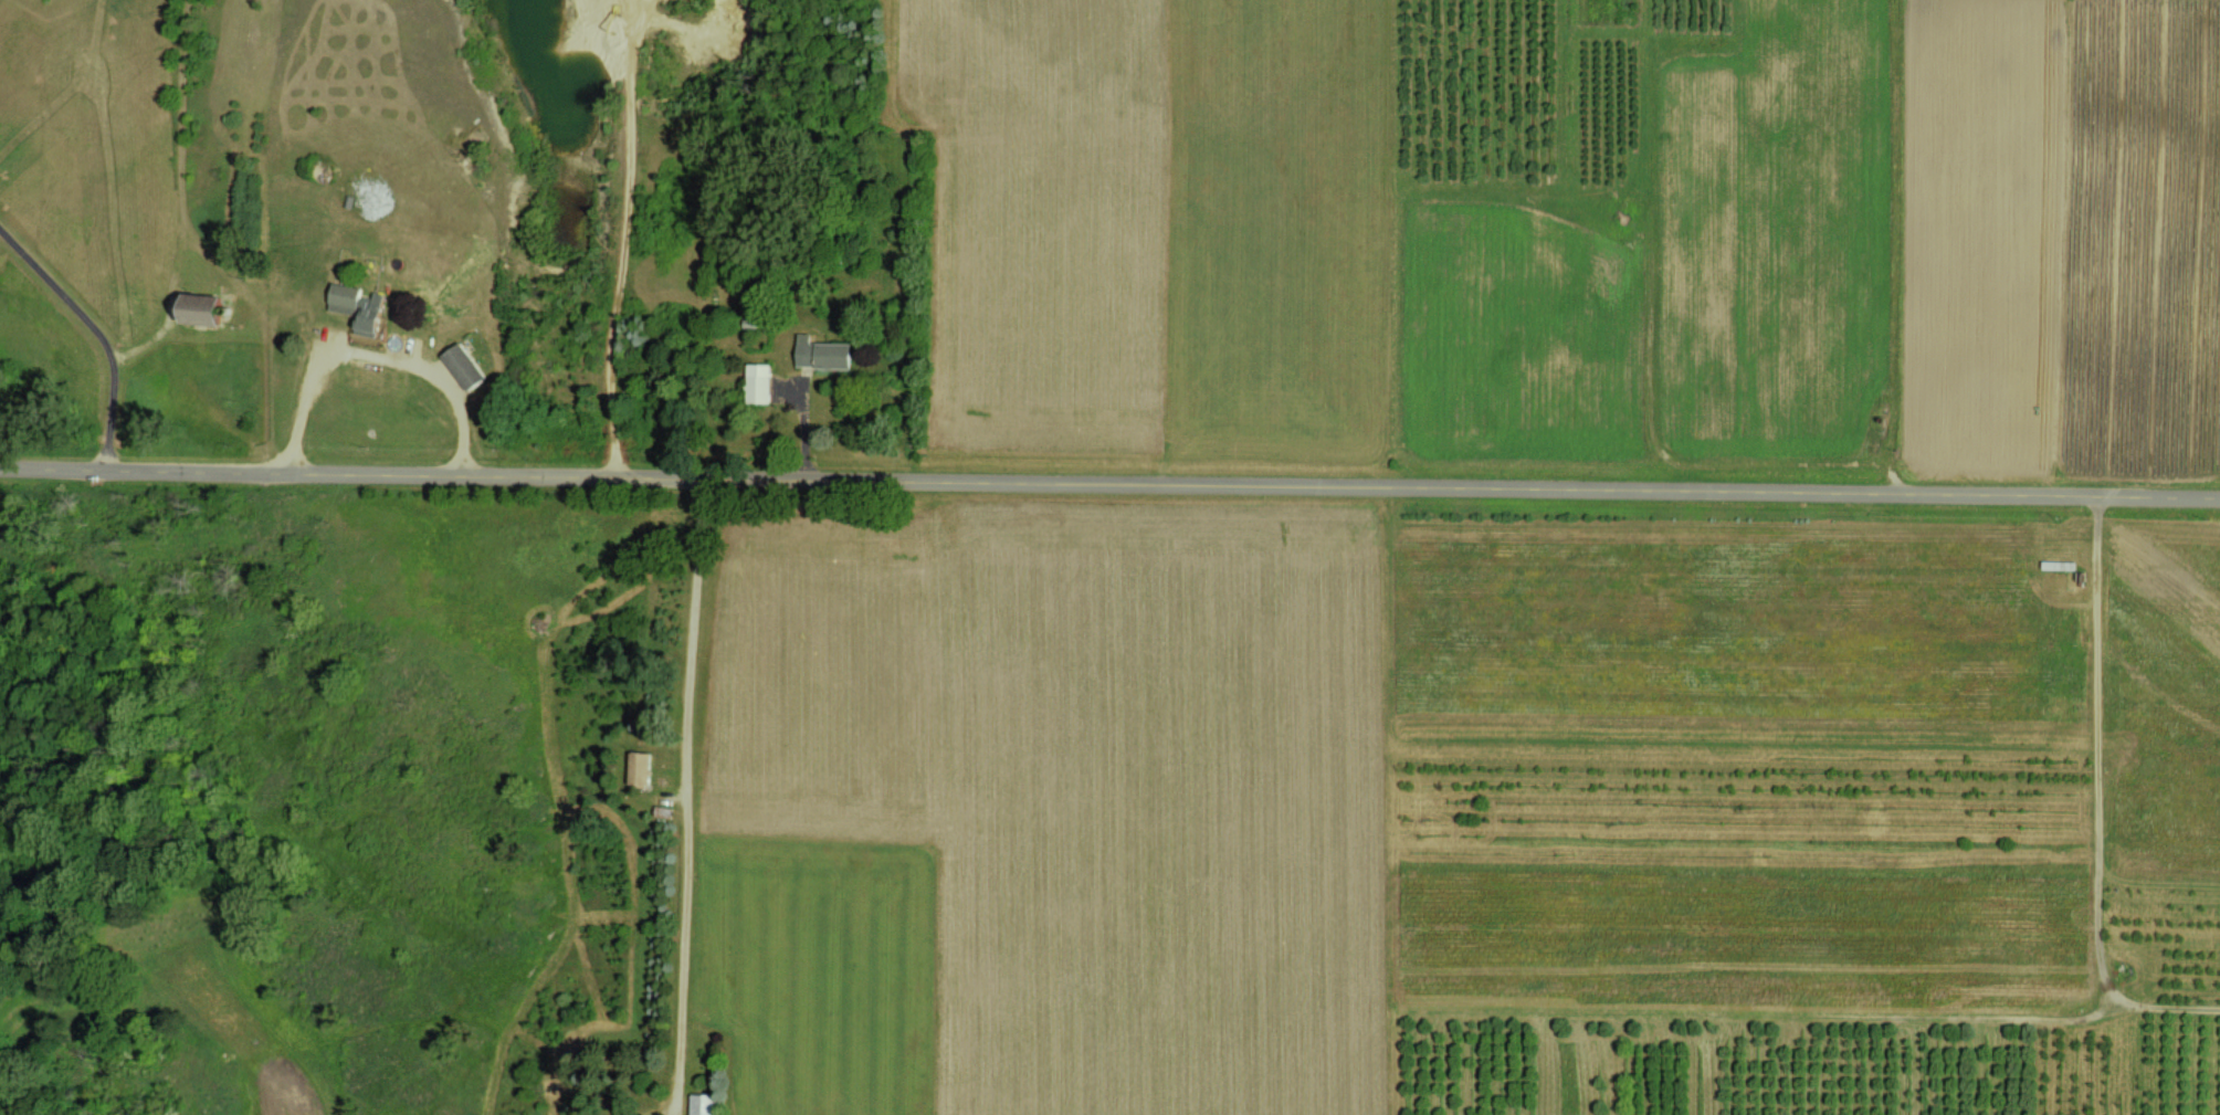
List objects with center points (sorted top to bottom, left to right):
building: (361, 307)
building: (206, 308)
road: (96, 330)
road: (369, 353)
building: (824, 354)
building: (465, 366)
building: (761, 382)
road: (1109, 484)
building: (643, 767)
road: (687, 797)
building: (706, 1104)

